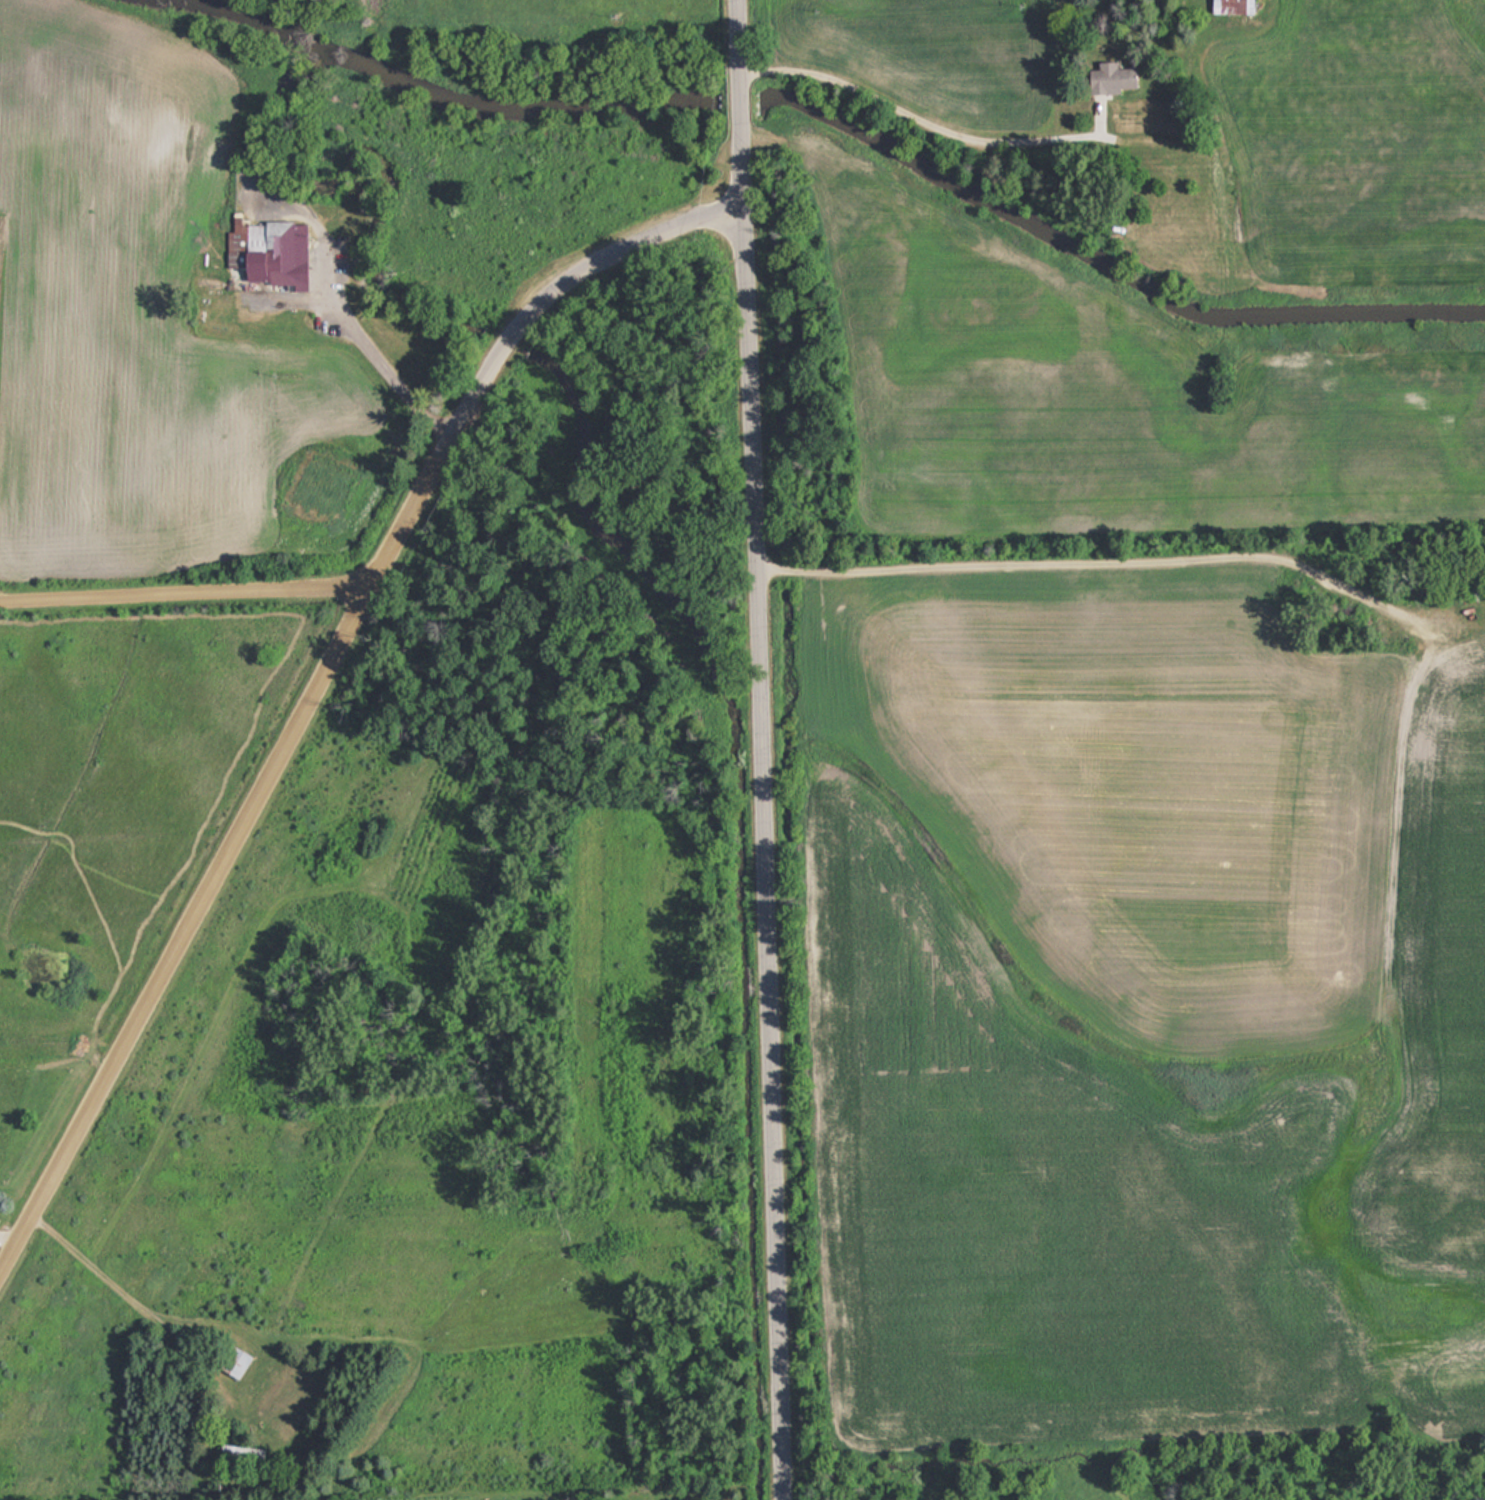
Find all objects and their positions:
building: (1230, 6)
building: (1108, 78)
river: (437, 96)
road: (738, 96)
river: (738, 102)
building: (270, 252)
river: (1109, 264)
road: (548, 278)
road: (184, 585)
road: (764, 846)
road: (217, 858)
building: (233, 1362)
building: (236, 1450)

